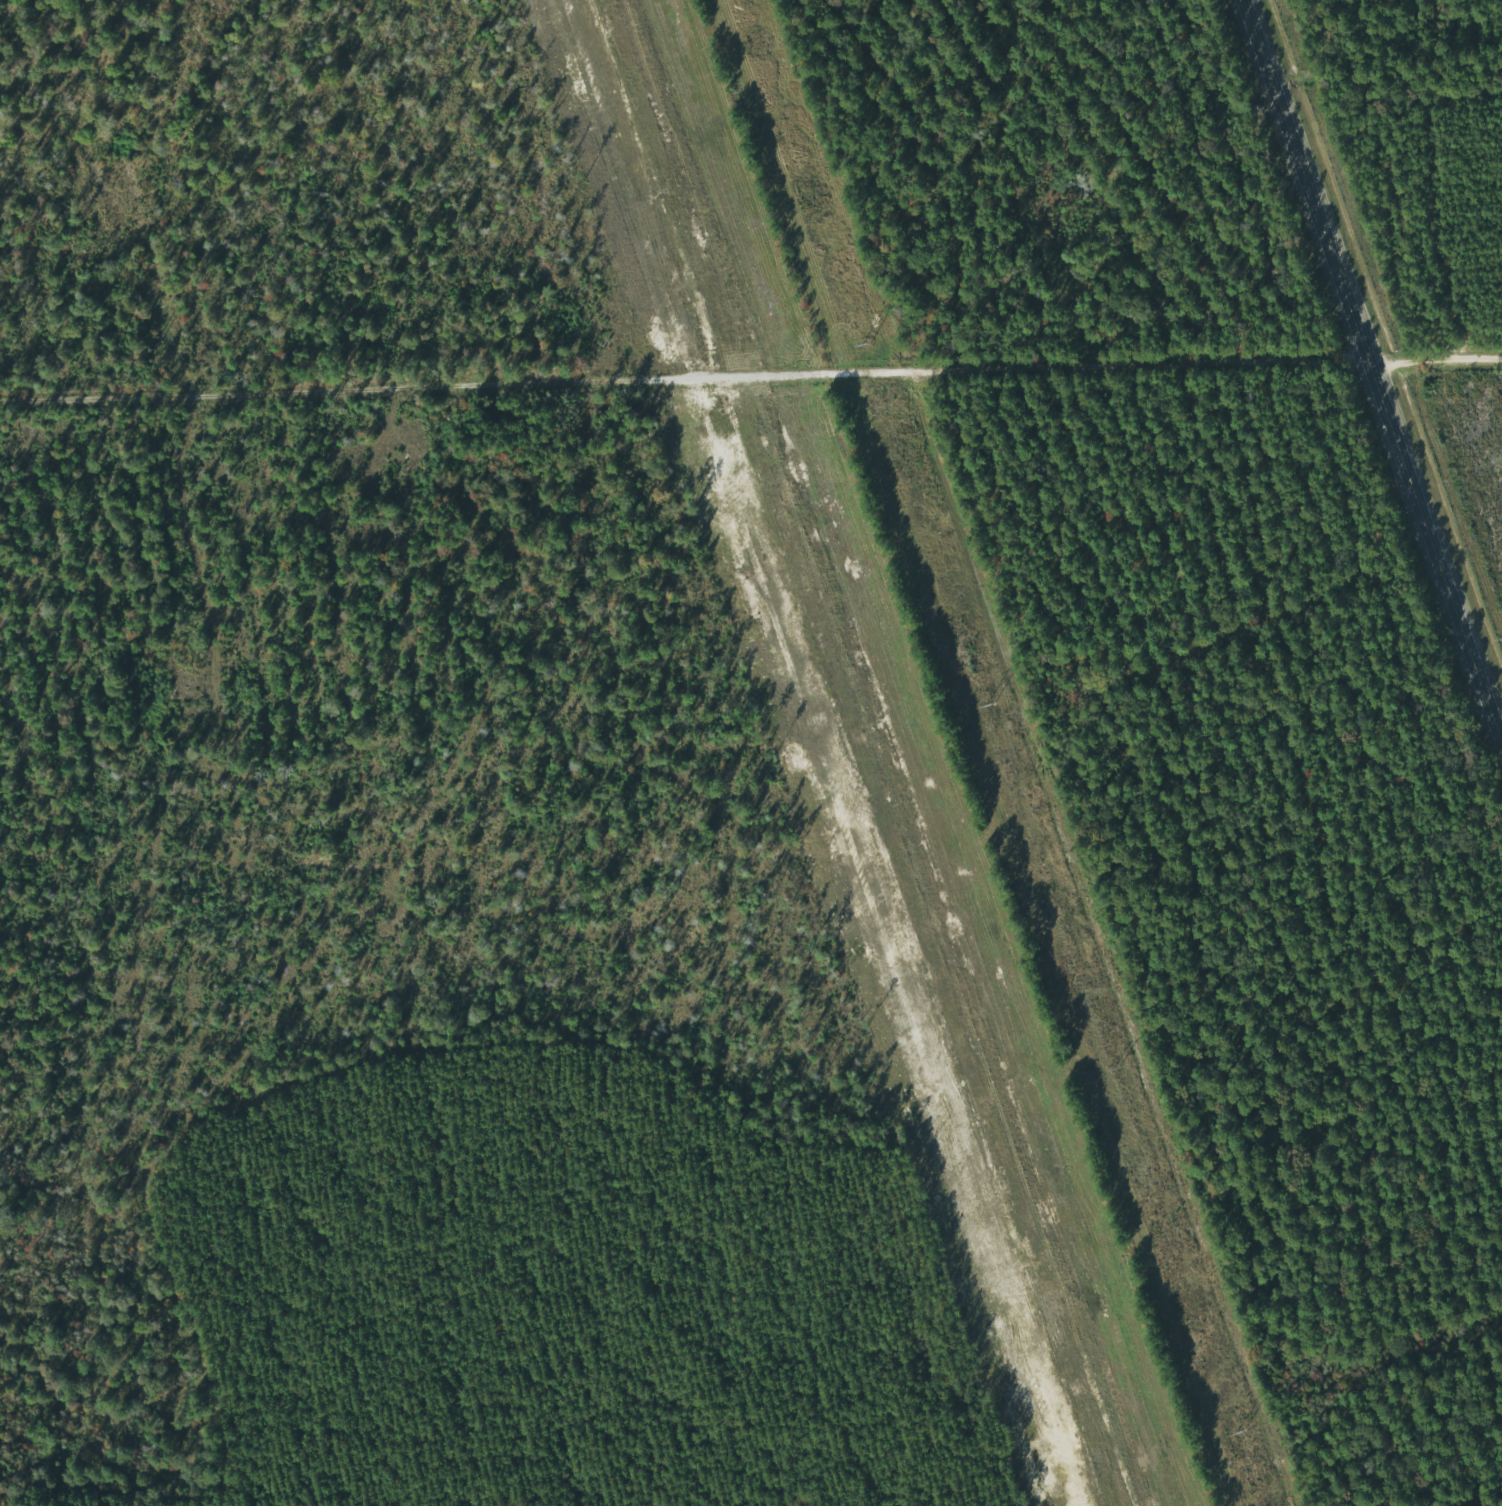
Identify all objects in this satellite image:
power tower: (864, 345)
road: (750, 371)
road: (1371, 371)
power tower: (988, 704)
road: (1134, 937)
power tower: (1115, 1068)
power tower: (1240, 1433)

